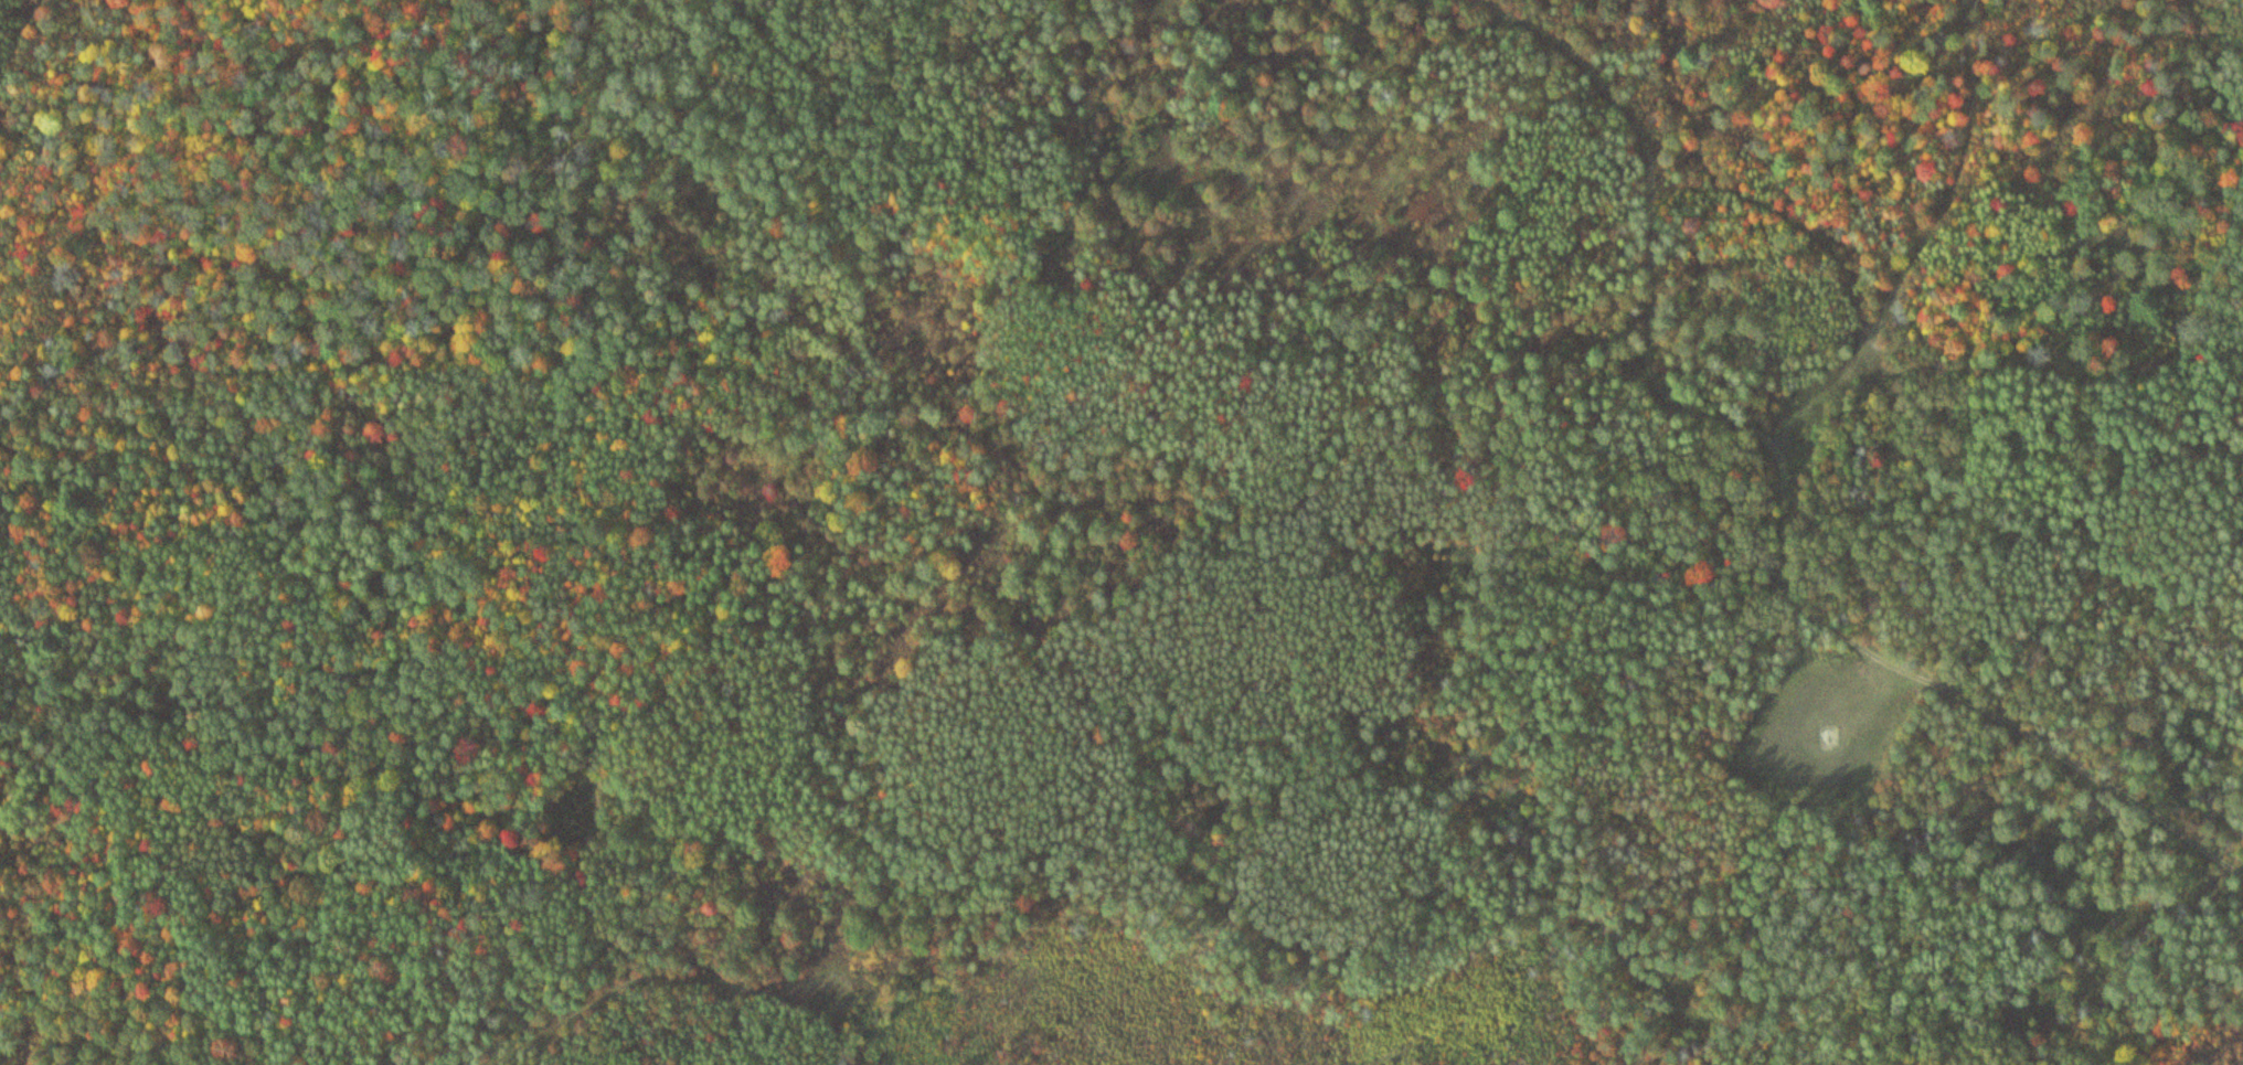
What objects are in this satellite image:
road: (1677, 42)
road: (1640, 223)
road: (1836, 632)

